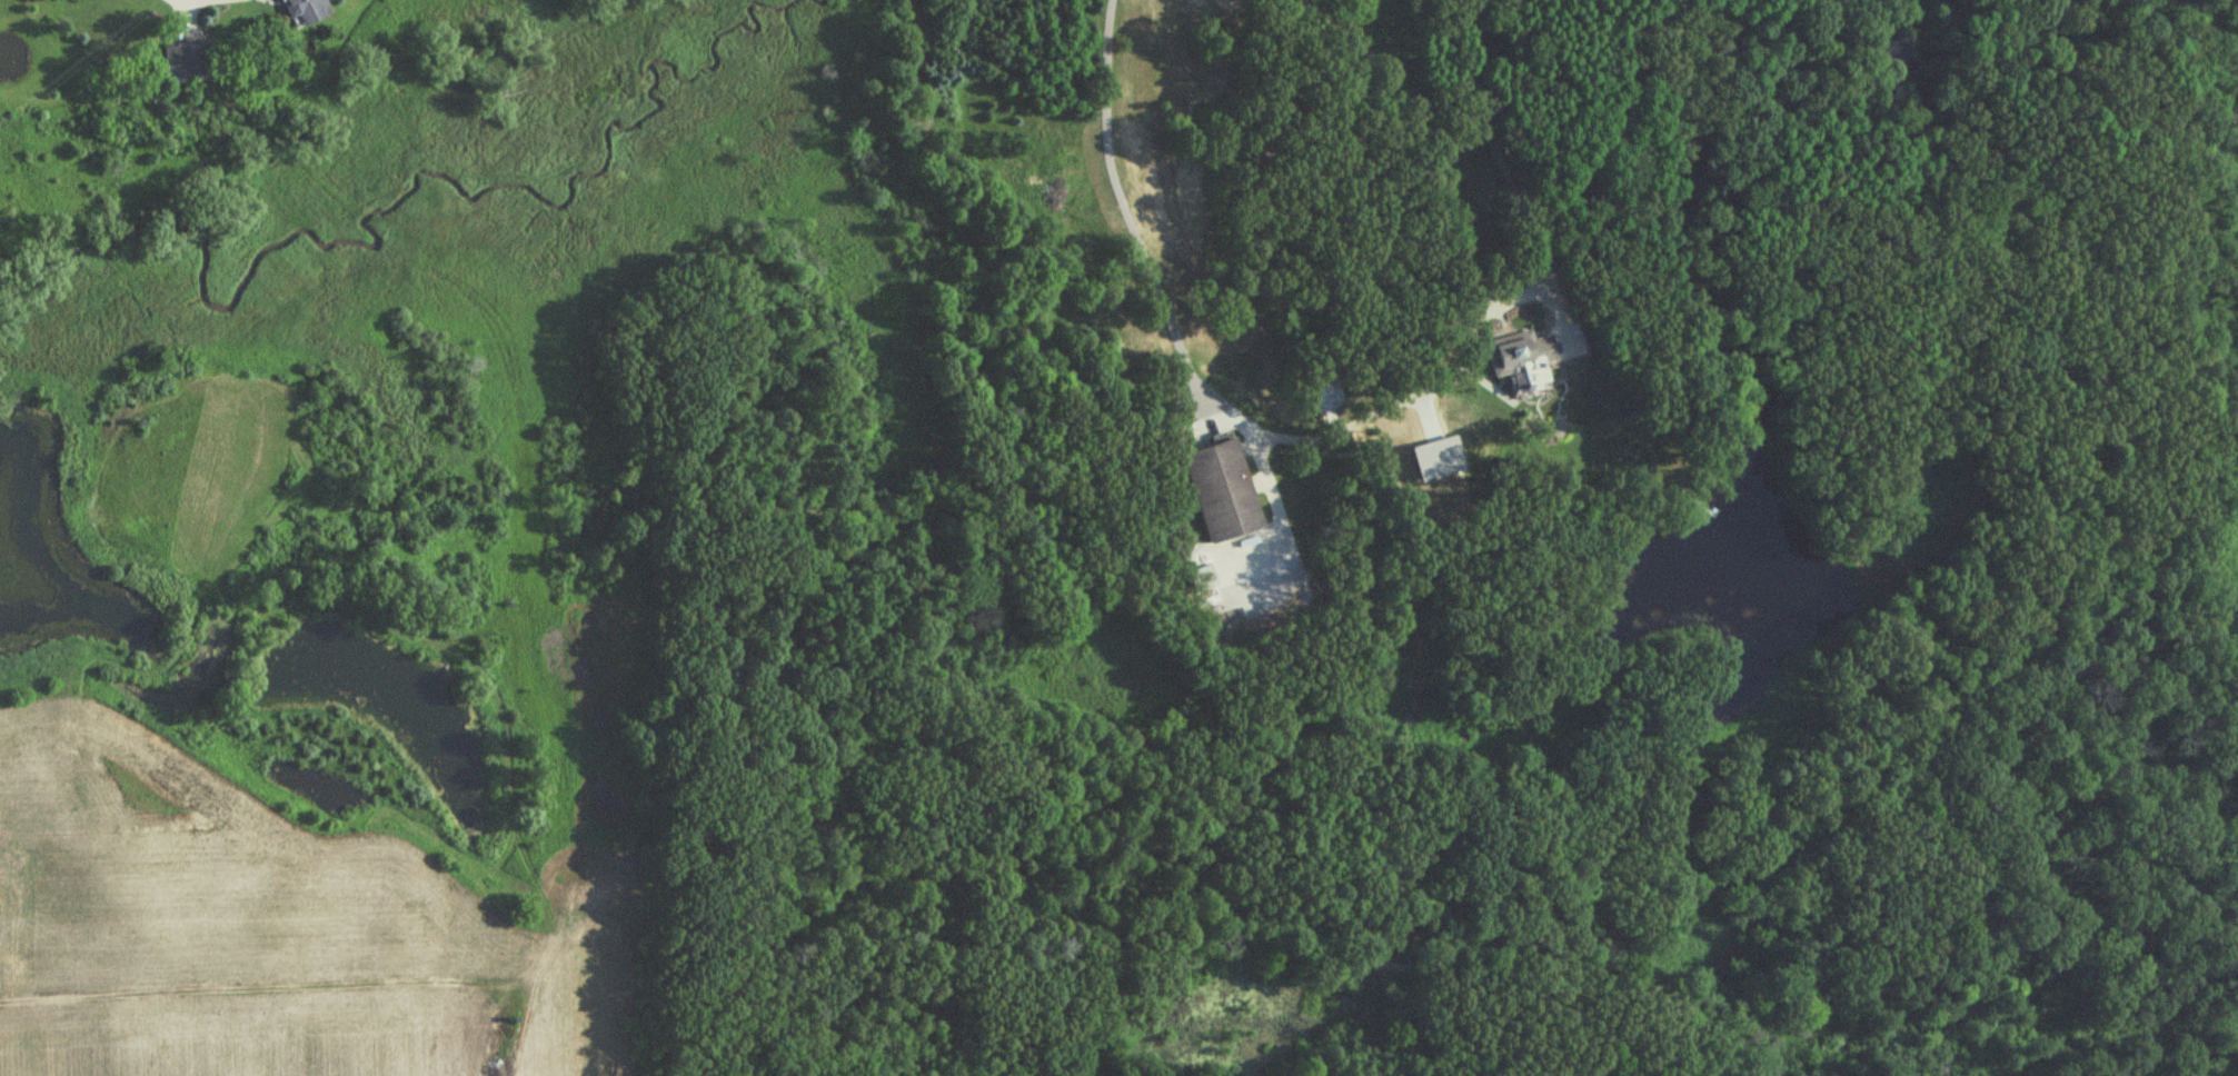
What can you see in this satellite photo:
building: (307, 12)
building: (190, 62)
building: (1523, 360)
building: (1322, 395)
road: (1334, 428)
building: (1223, 491)

